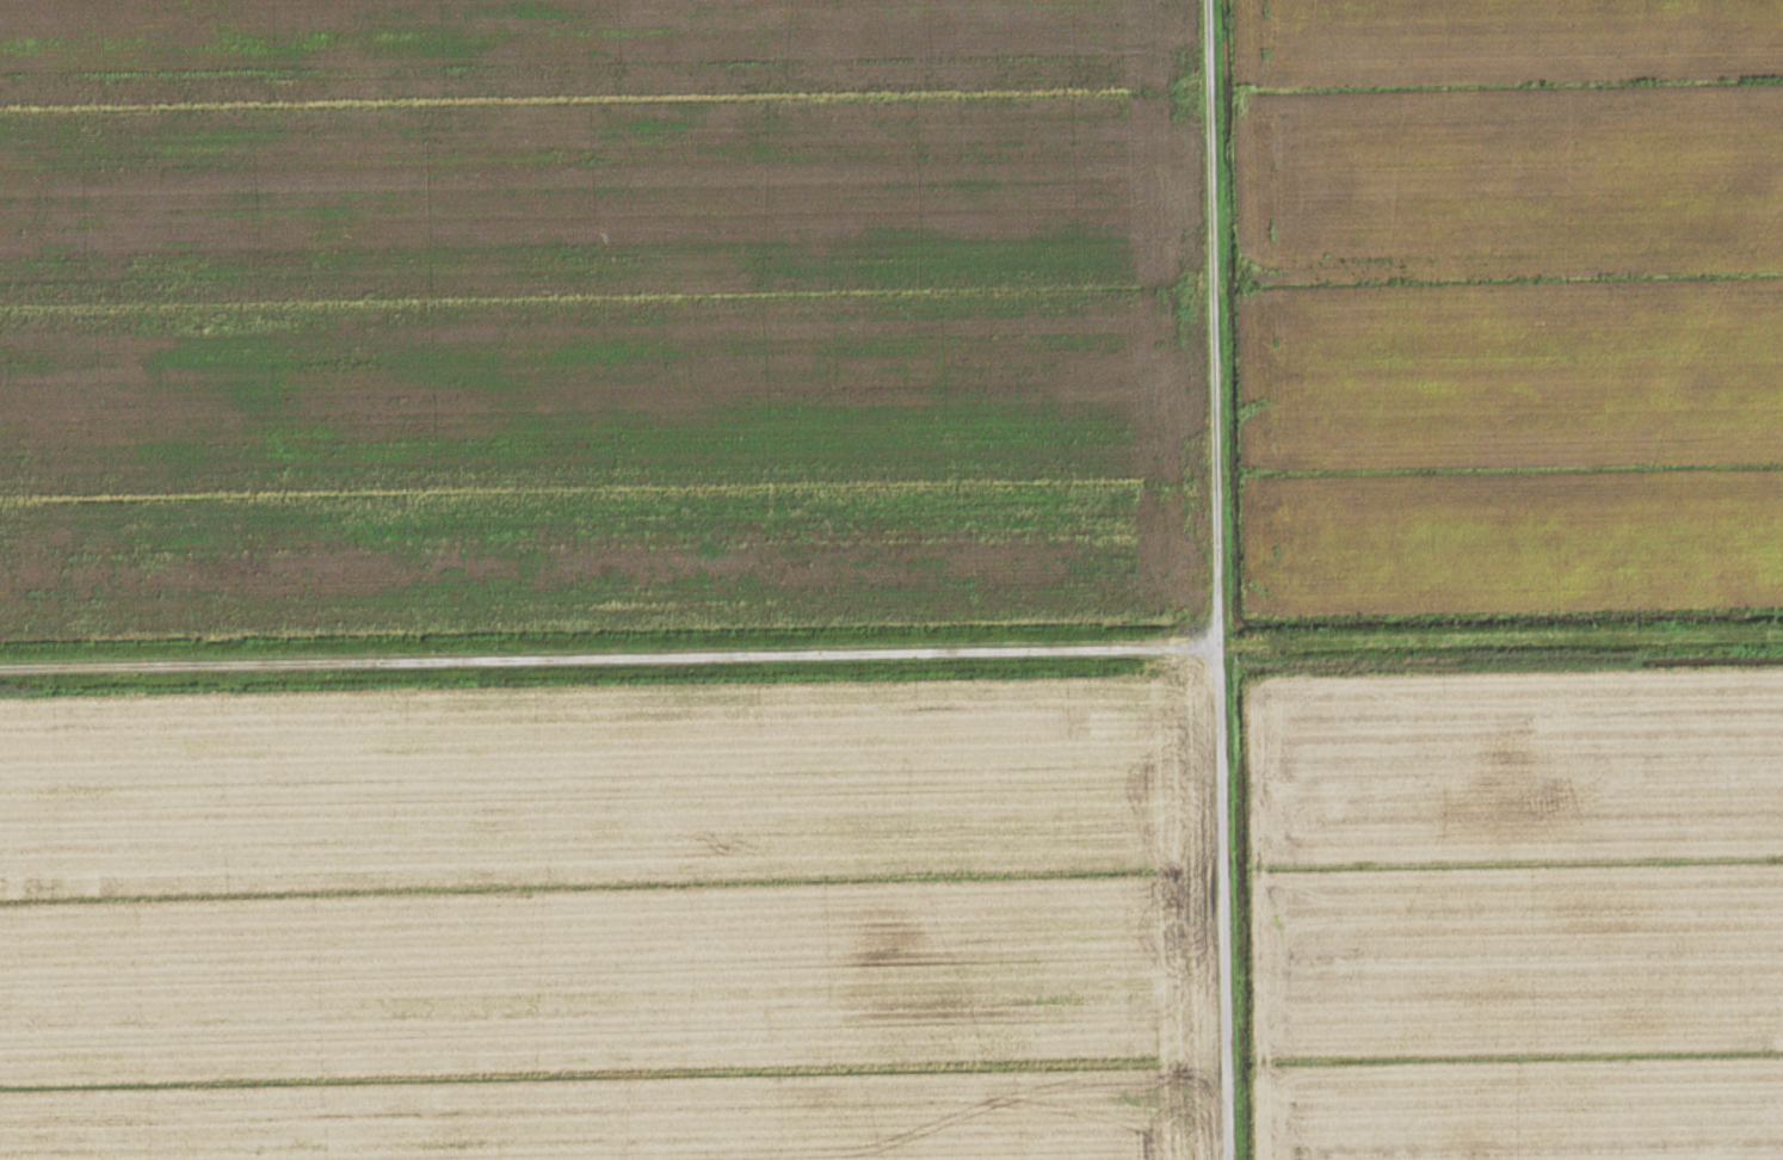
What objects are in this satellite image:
crop: (1510, 304)
crop: (600, 315)
crop: (613, 923)

